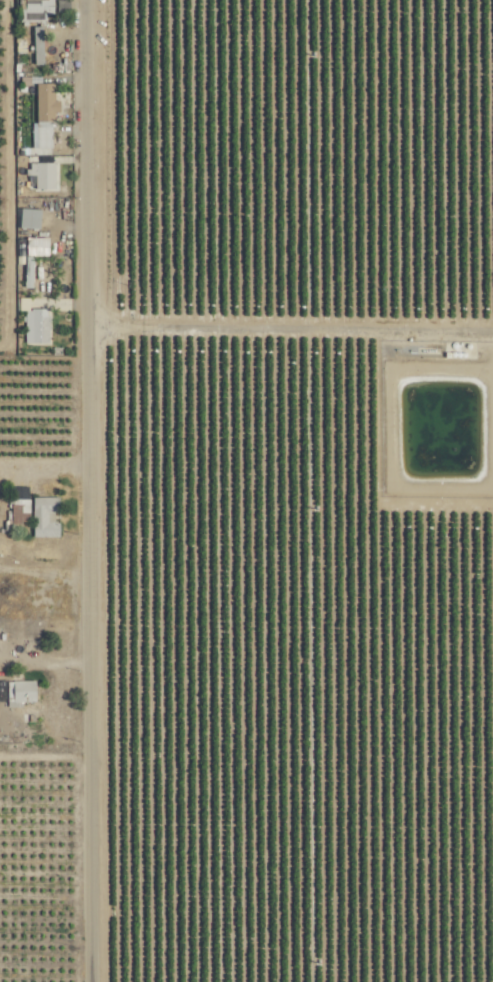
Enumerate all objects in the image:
building: (43, 115)
building: (42, 176)
building: (26, 218)
building: (35, 247)
building: (27, 278)
road: (290, 328)
road: (89, 490)
crop: (246, 491)
building: (19, 510)
building: (43, 516)
road: (45, 663)
building: (19, 690)

